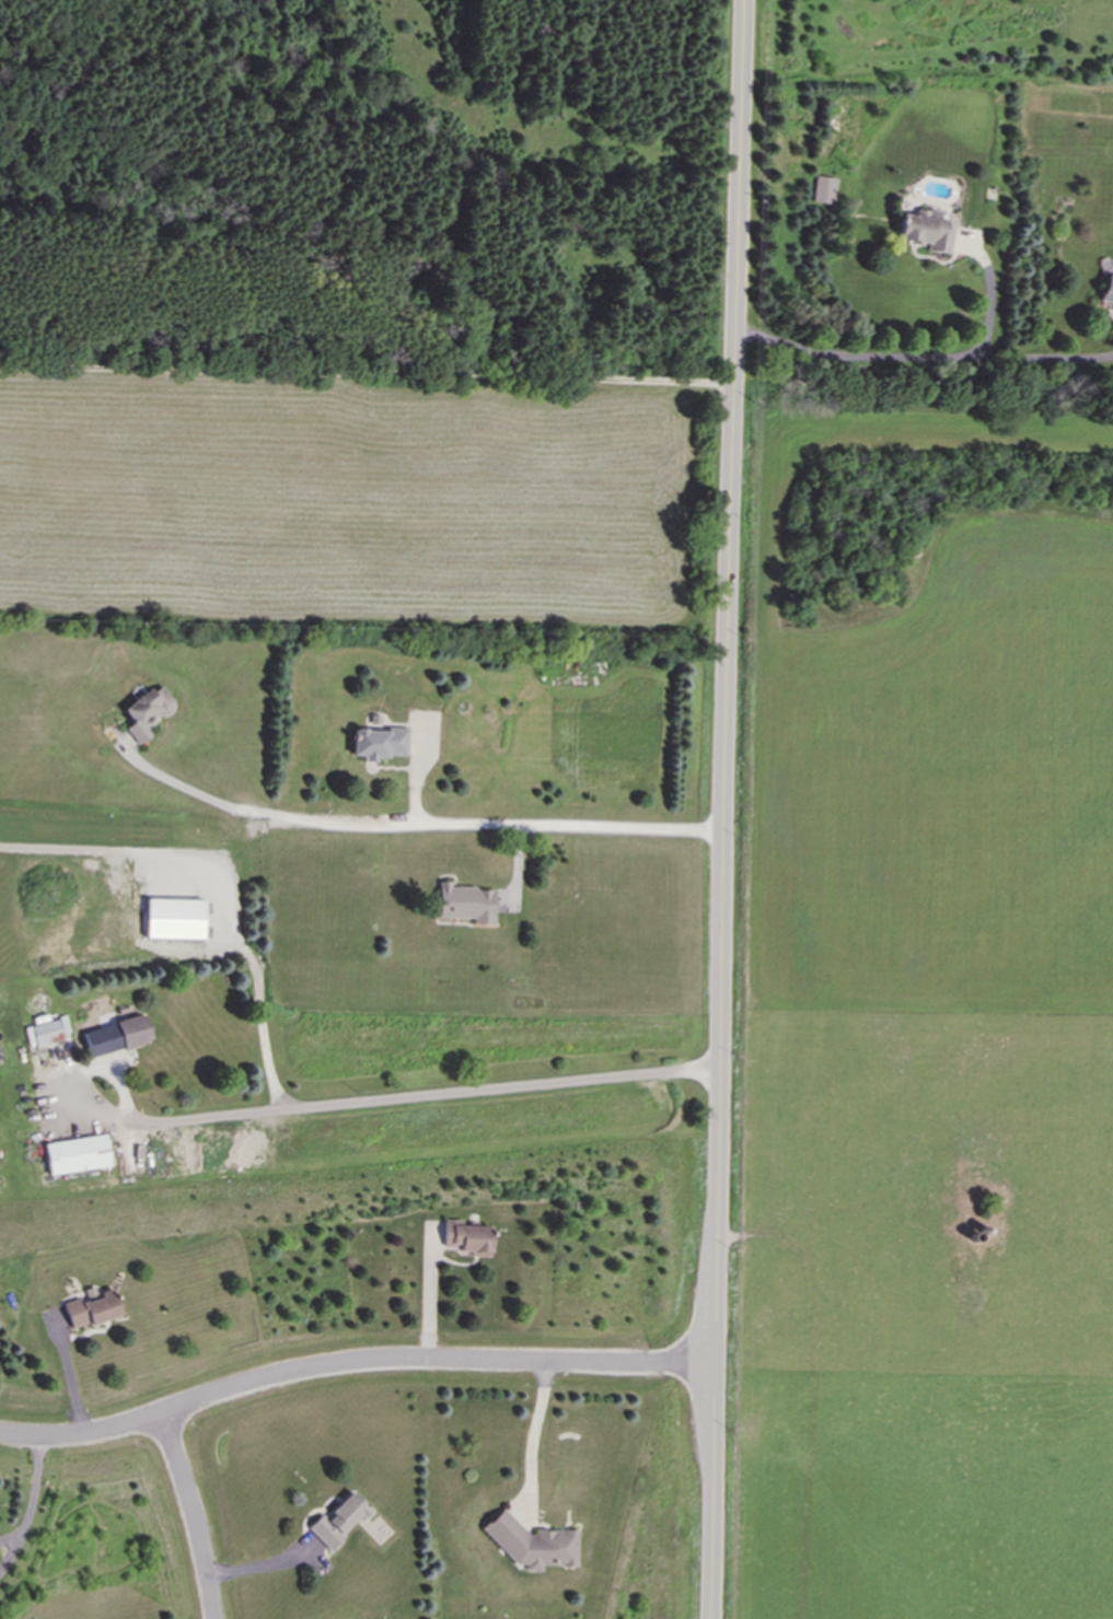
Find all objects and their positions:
building: (824, 189)
building: (926, 231)
building: (1108, 290)
road: (989, 298)
building: (1112, 310)
building: (1112, 311)
road: (923, 357)
building: (147, 711)
building: (380, 743)
road: (177, 783)
road: (723, 808)
road: (478, 824)
road: (224, 878)
building: (466, 904)
building: (175, 919)
crop: (926, 1018)
building: (46, 1033)
building: (116, 1036)
road: (425, 1093)
building: (77, 1154)
building: (467, 1237)
building: (91, 1307)
road: (352, 1363)
road: (533, 1437)
road: (31, 1495)
road: (193, 1515)
building: (338, 1521)
building: (532, 1544)
road: (262, 1566)

